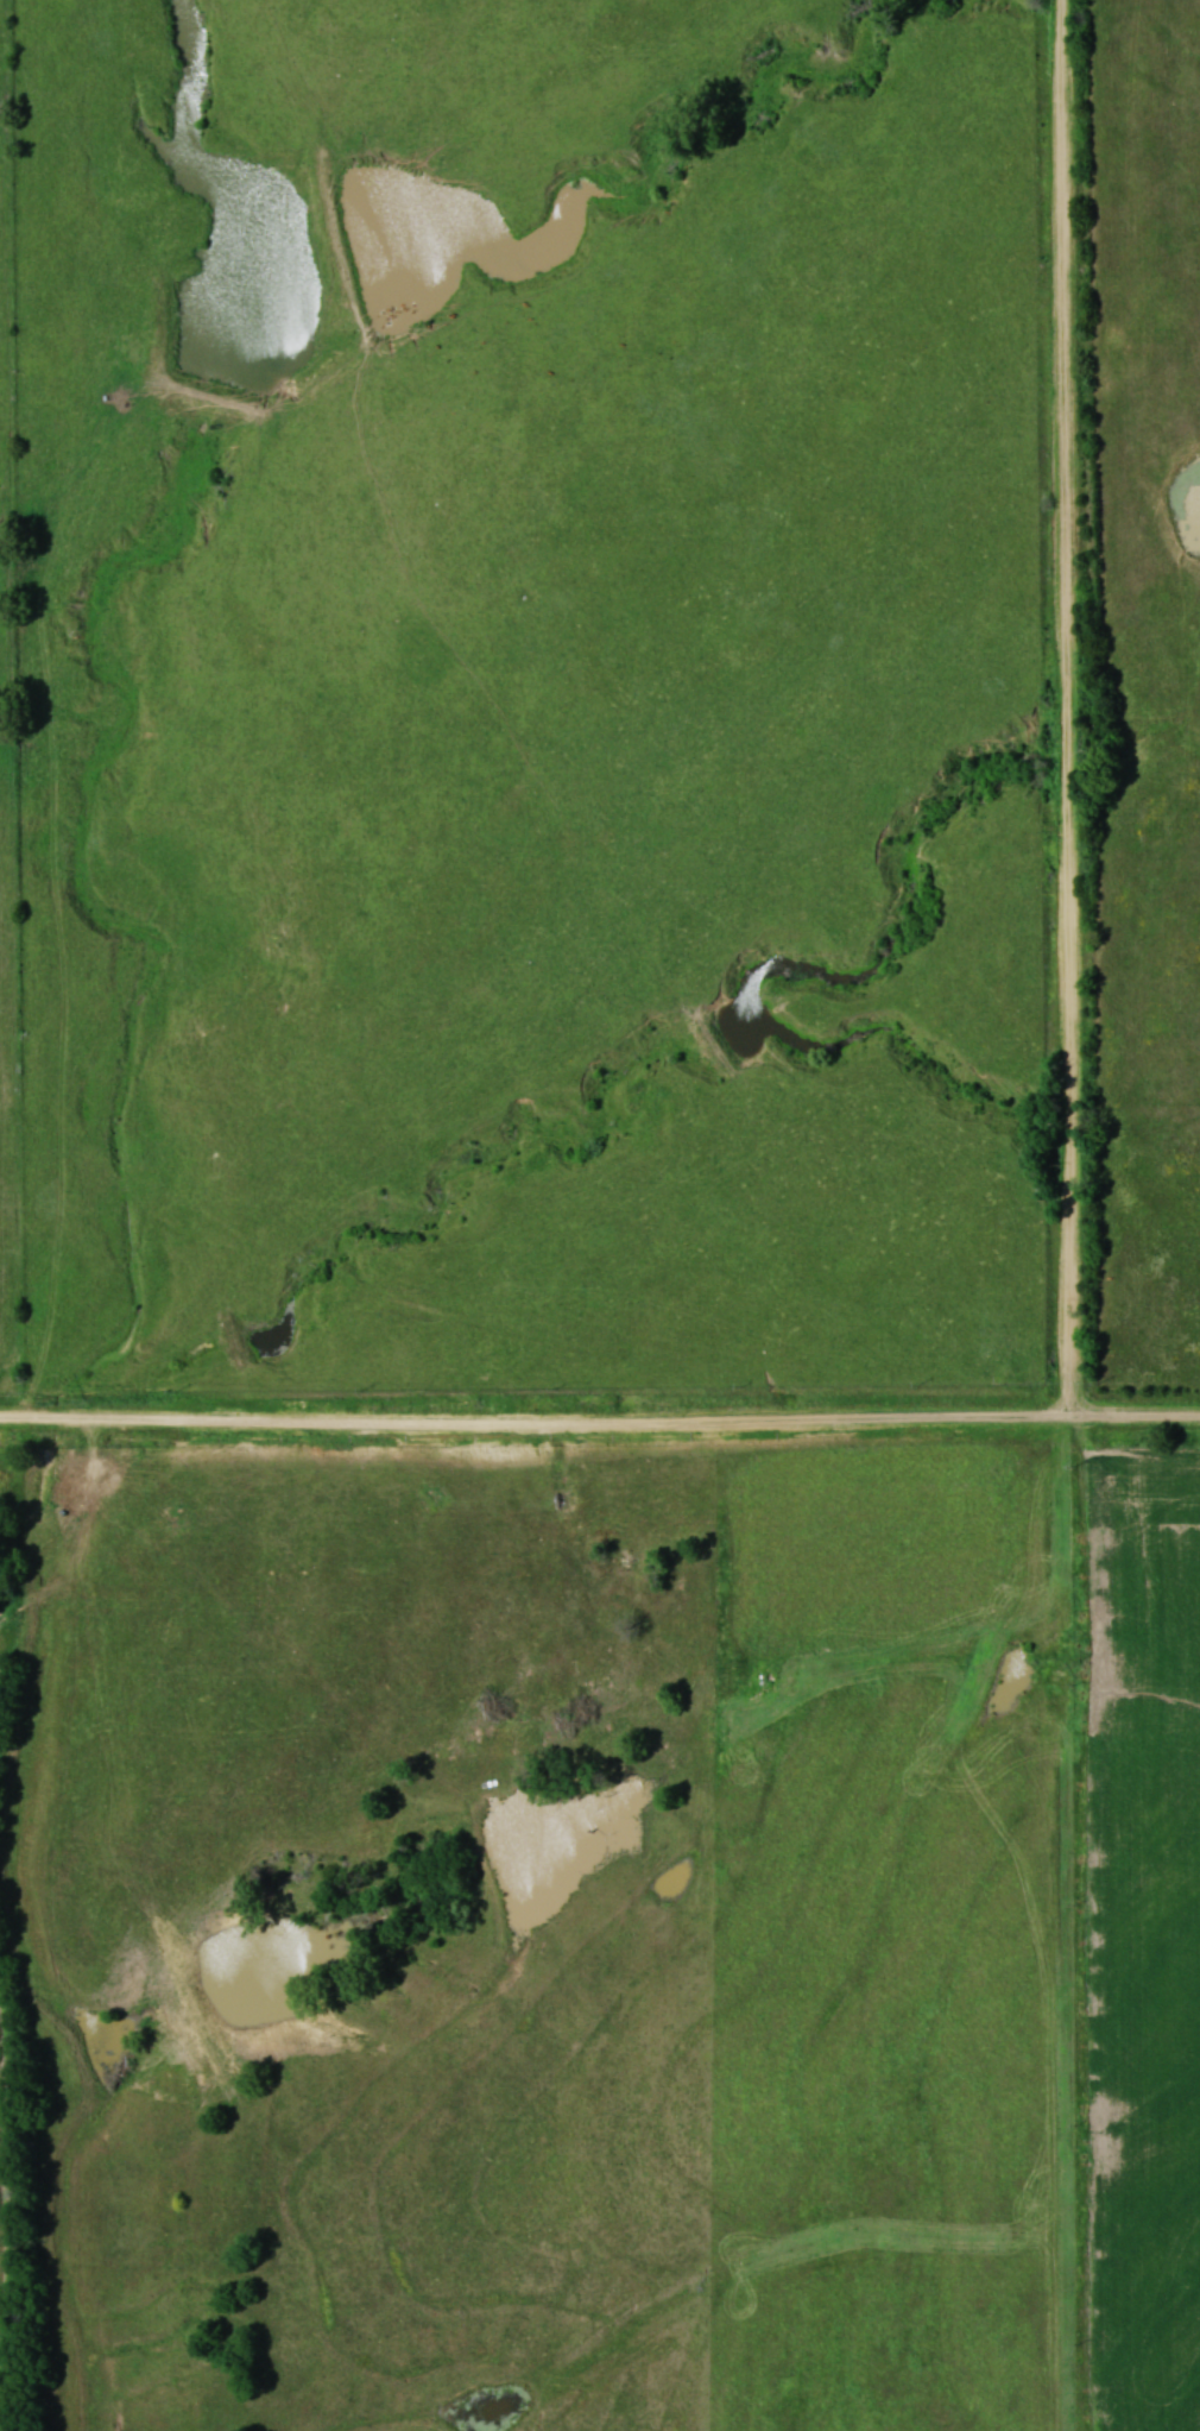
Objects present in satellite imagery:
road: (1072, 706)
road: (600, 1404)

